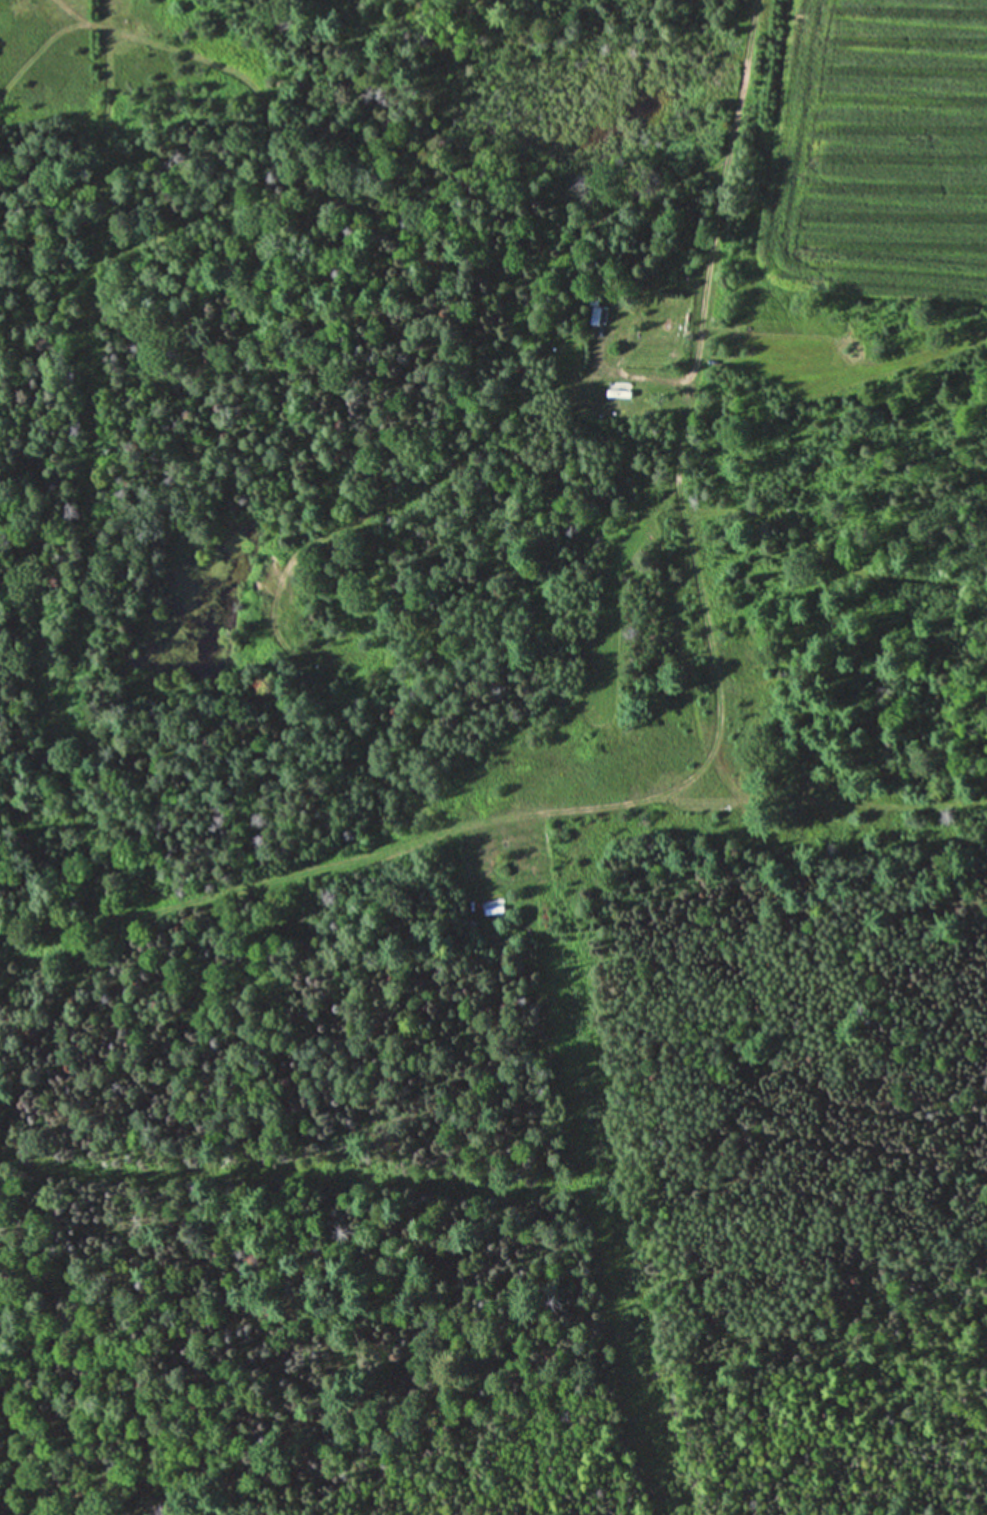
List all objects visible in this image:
building: (595, 317)
road: (335, 529)
road: (656, 796)
road: (3, 1427)

